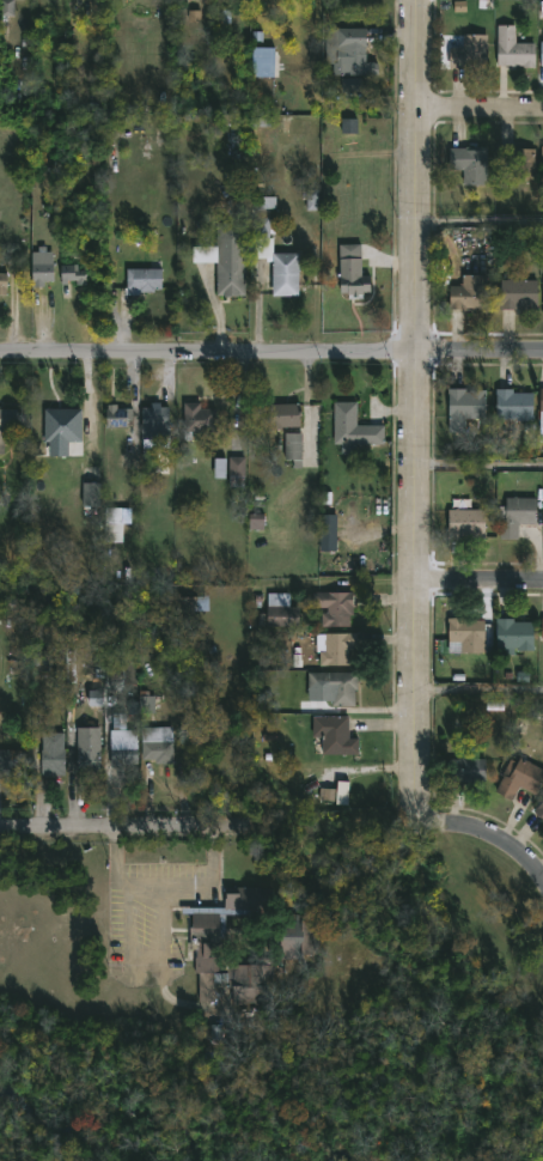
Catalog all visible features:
building: (541, 7)
building: (513, 49)
building: (541, 51)
building: (353, 53)
building: (468, 53)
road: (477, 105)
building: (541, 157)
building: (518, 162)
building: (466, 164)
building: (266, 224)
road: (477, 225)
building: (231, 262)
building: (349, 271)
building: (42, 273)
building: (287, 274)
building: (72, 276)
building: (146, 280)
building: (4, 284)
building: (468, 292)
building: (518, 293)
road: (270, 355)
building: (512, 403)
building: (464, 406)
building: (539, 407)
road: (413, 409)
building: (287, 414)
building: (122, 415)
building: (201, 418)
building: (65, 424)
building: (6, 425)
building: (157, 425)
building: (352, 426)
building: (295, 448)
building: (239, 470)
road: (477, 473)
building: (93, 487)
building: (514, 515)
building: (115, 519)
building: (465, 522)
road: (477, 585)
building: (195, 601)
building: (335, 608)
building: (280, 610)
building: (541, 628)
building: (512, 633)
building: (464, 634)
building: (335, 646)
building: (39, 662)
building: (99, 663)
building: (335, 685)
road: (477, 695)
building: (144, 703)
building: (331, 734)
building: (123, 740)
building: (159, 743)
building: (89, 749)
building: (53, 753)
building: (14, 761)
building: (464, 767)
building: (519, 777)
building: (342, 792)
building: (539, 809)
road: (112, 827)
road: (239, 827)
road: (483, 840)
road: (165, 883)
building: (300, 950)
park: (292, 1099)

